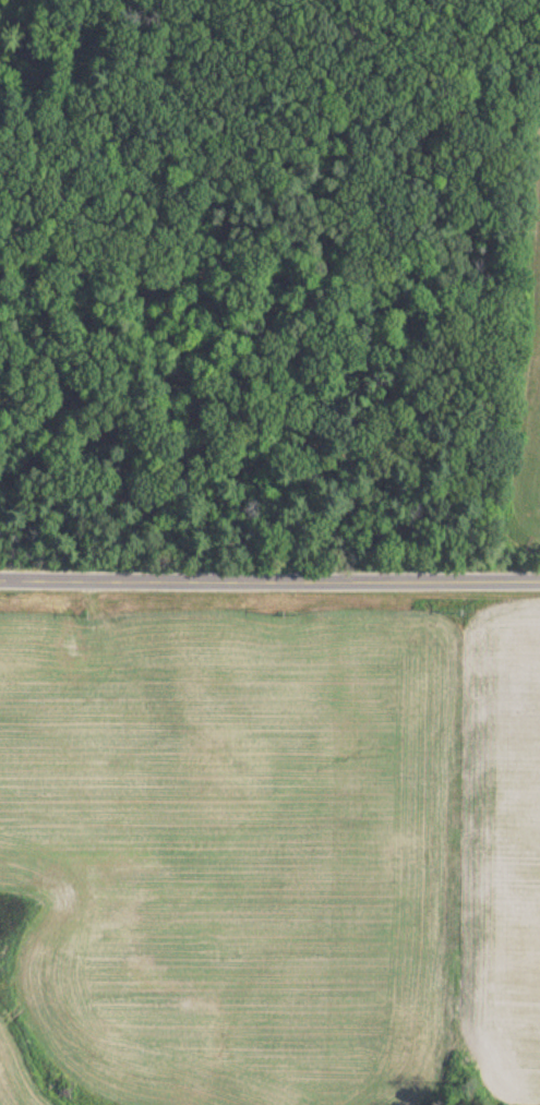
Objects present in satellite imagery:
road: (269, 577)

